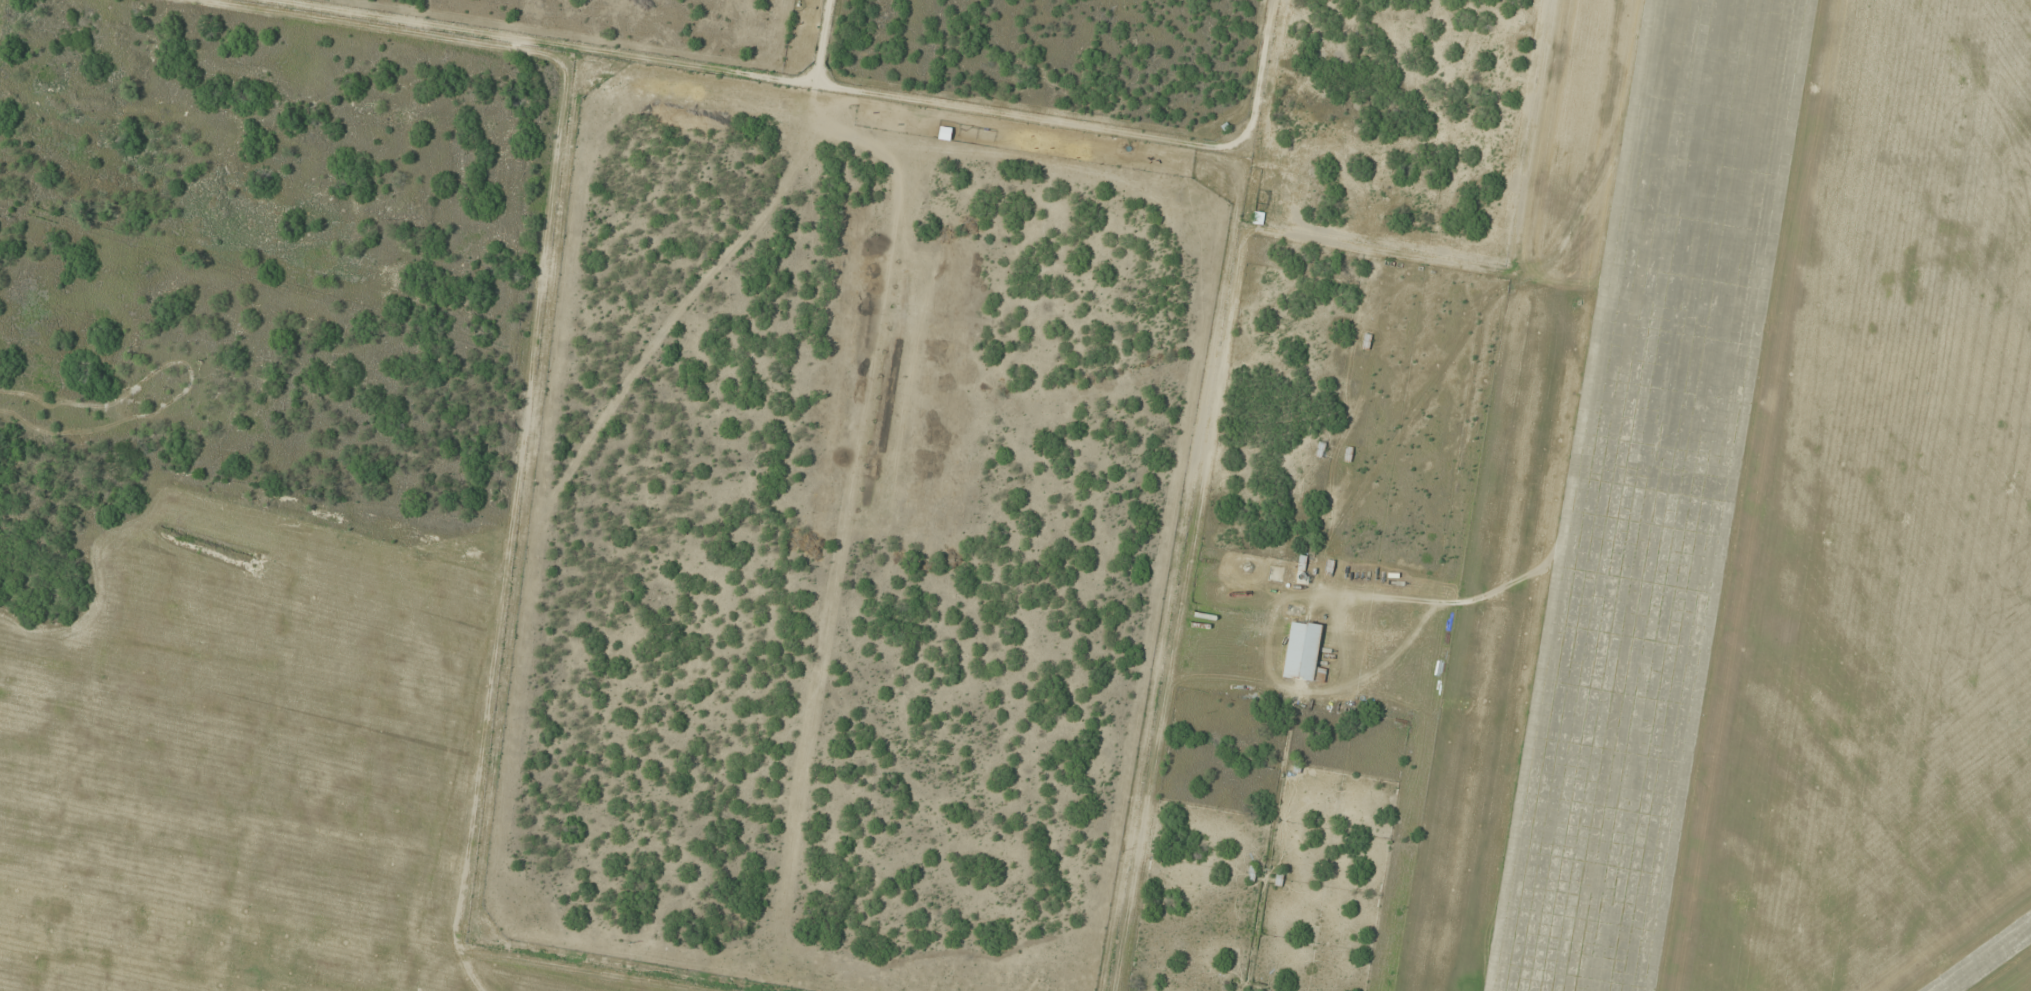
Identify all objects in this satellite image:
building: (1366, 343)
airport runway: (1653, 495)
airport: (1248, 497)
building: (1303, 652)
building: (1279, 878)
airport taxiway: (1990, 961)
building: (772, 982)

